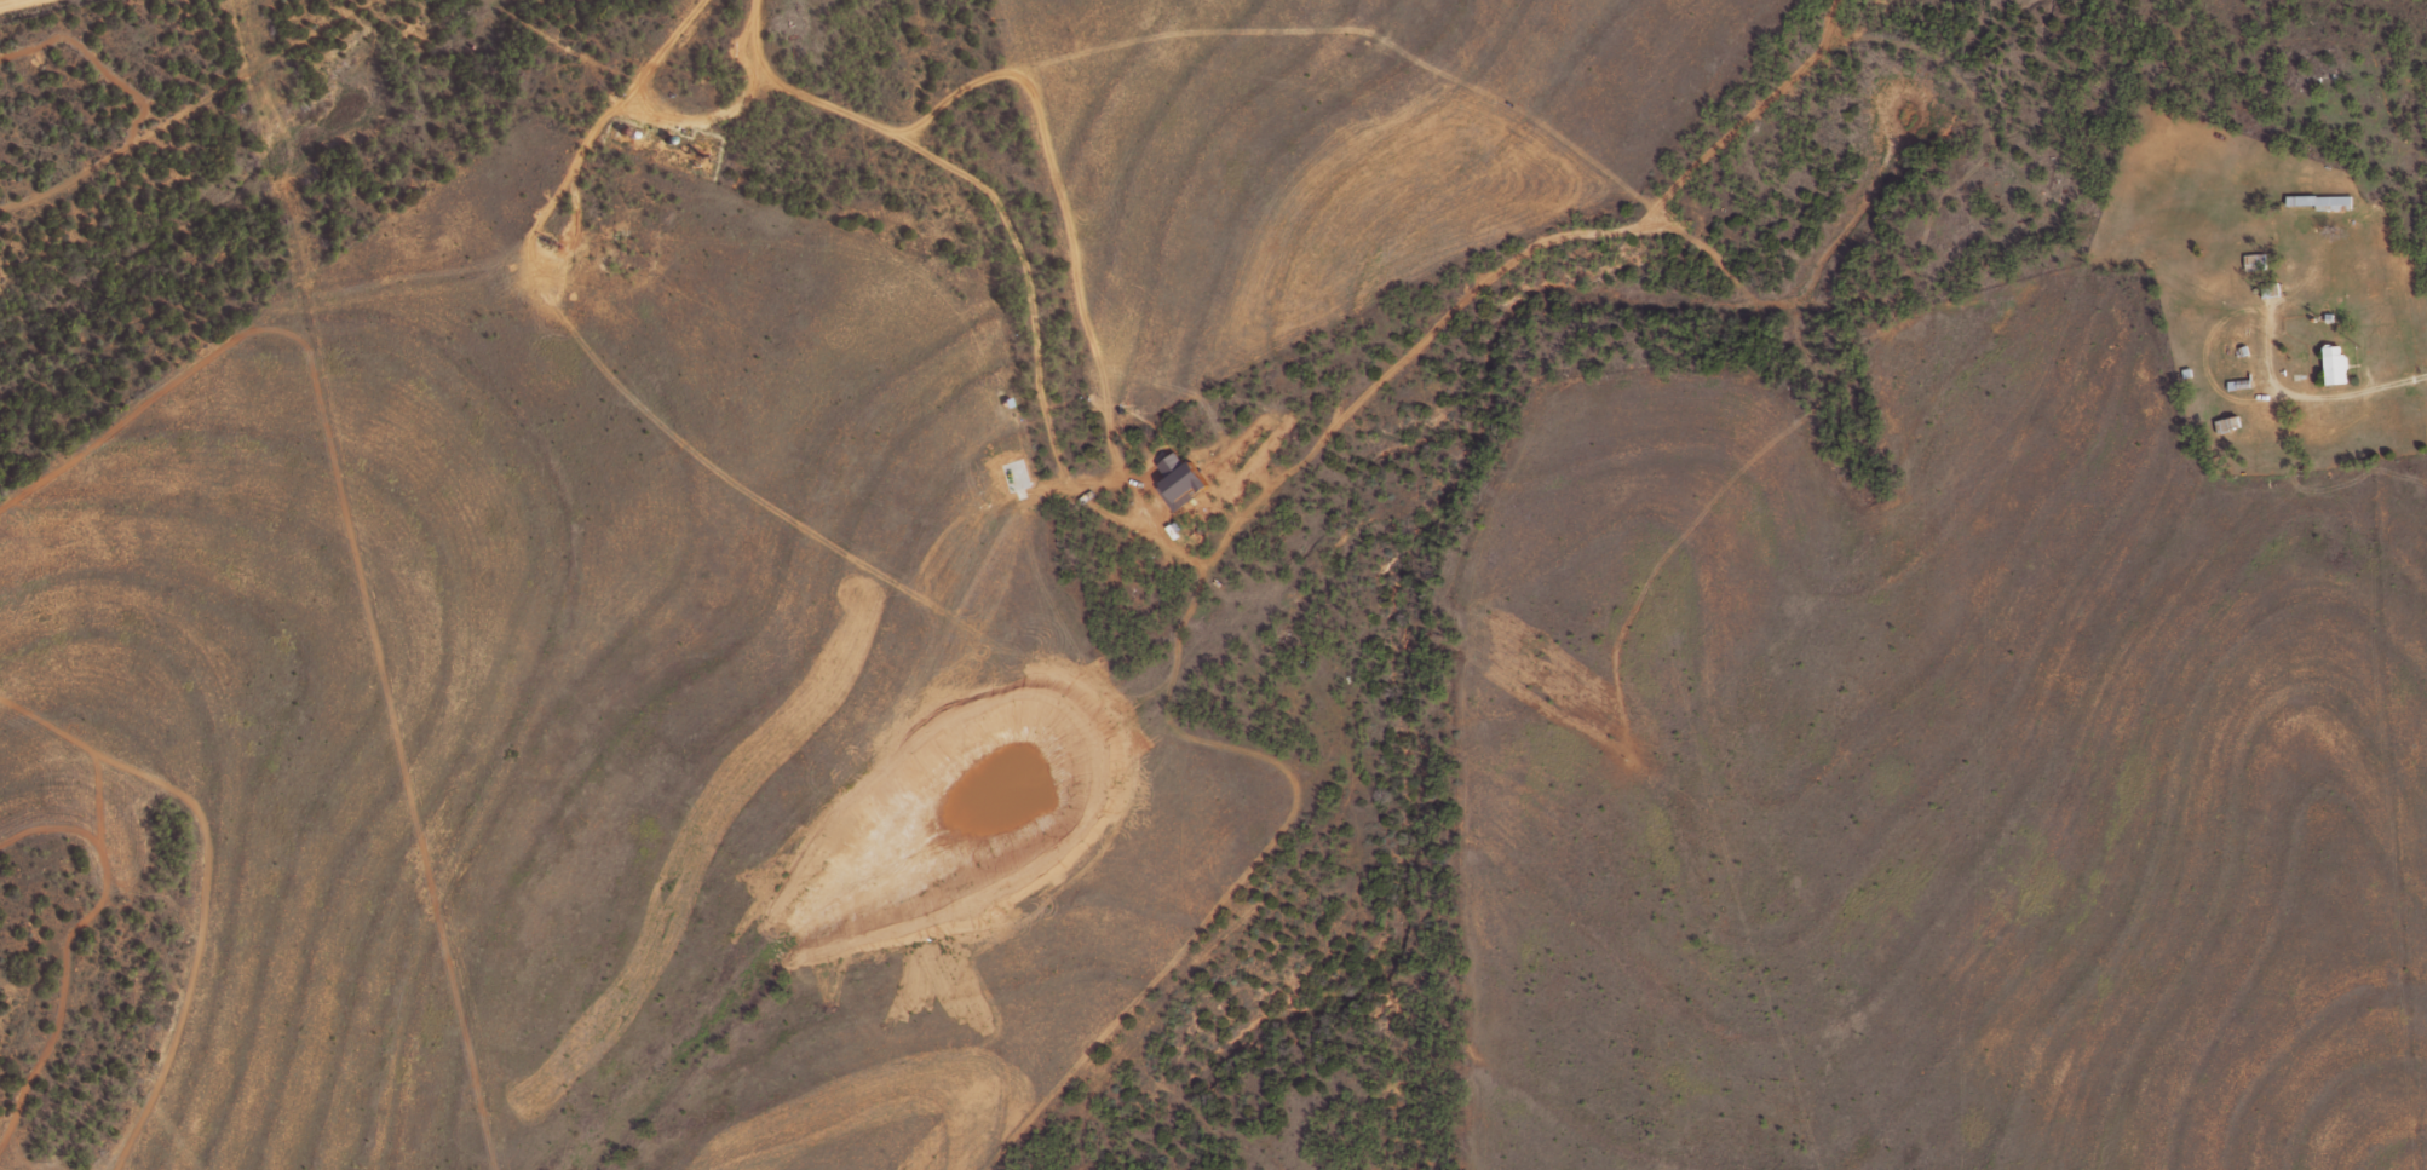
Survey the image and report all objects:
building: (2318, 201)
building: (2254, 261)
building: (2270, 289)
building: (2334, 364)
road: (2385, 384)

